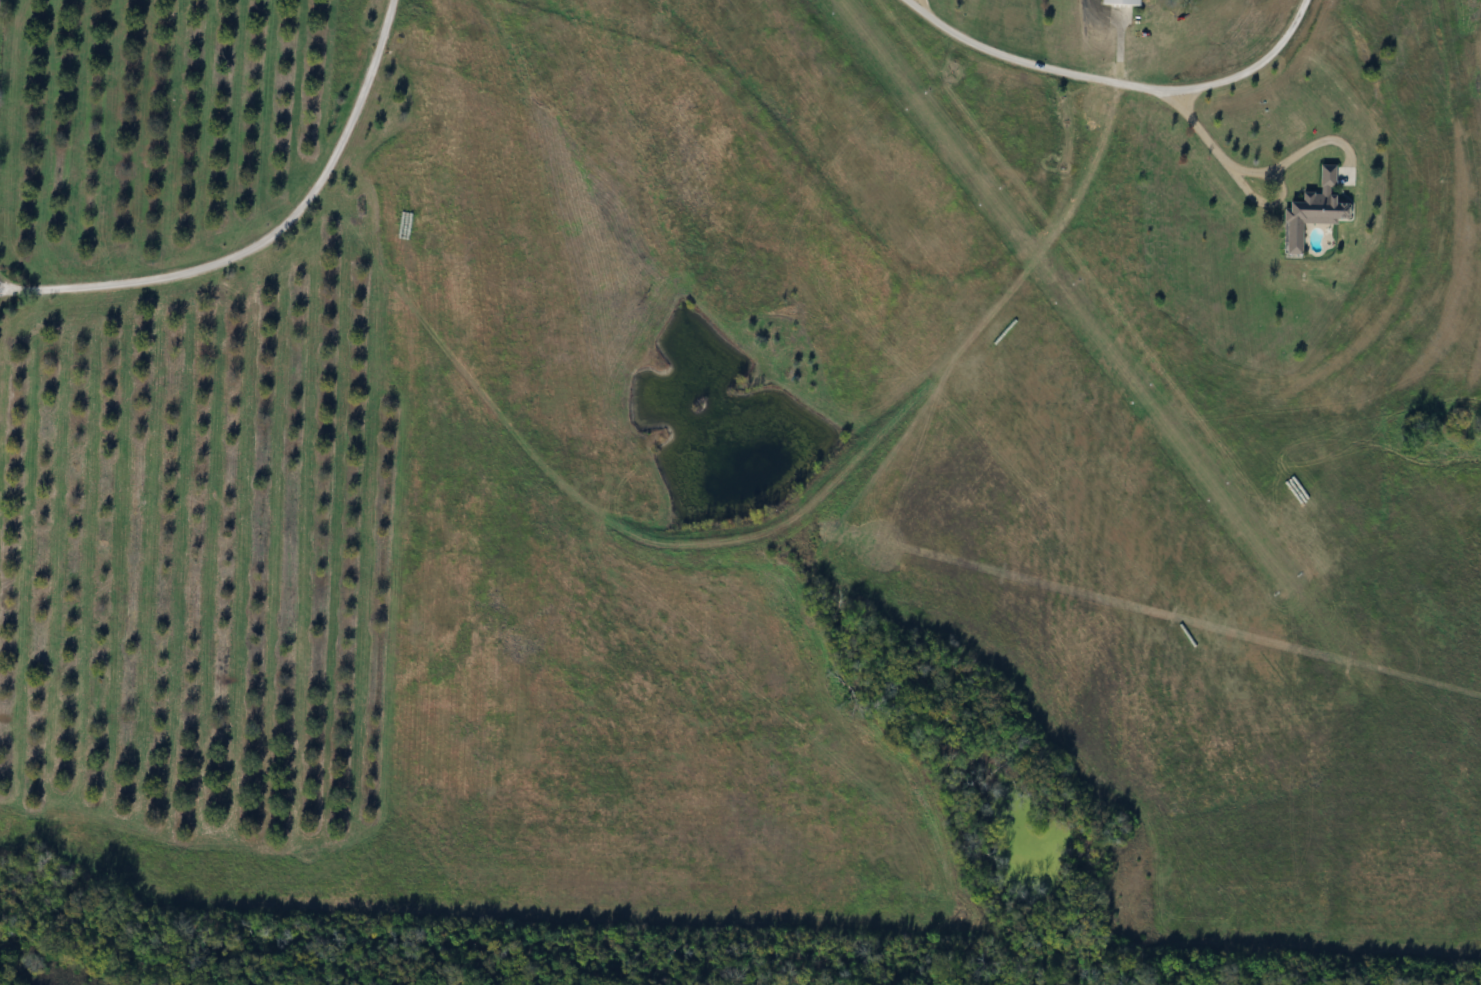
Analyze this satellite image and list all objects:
road: (911, 3)
building: (1123, 3)
road: (1111, 82)
road: (1231, 164)
building: (1315, 210)
road: (263, 236)

